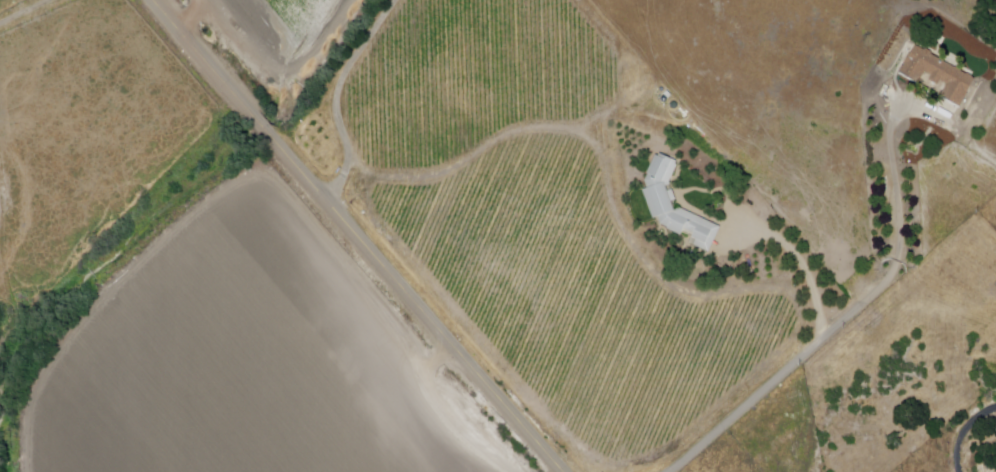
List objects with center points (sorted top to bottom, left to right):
road: (26, 12)
crop: (285, 26)
road: (201, 59)
building: (937, 74)
road: (336, 96)
road: (262, 126)
road: (467, 161)
building: (677, 206)
road: (802, 265)
road: (414, 302)
road: (848, 318)
crop: (241, 366)
road: (964, 434)

